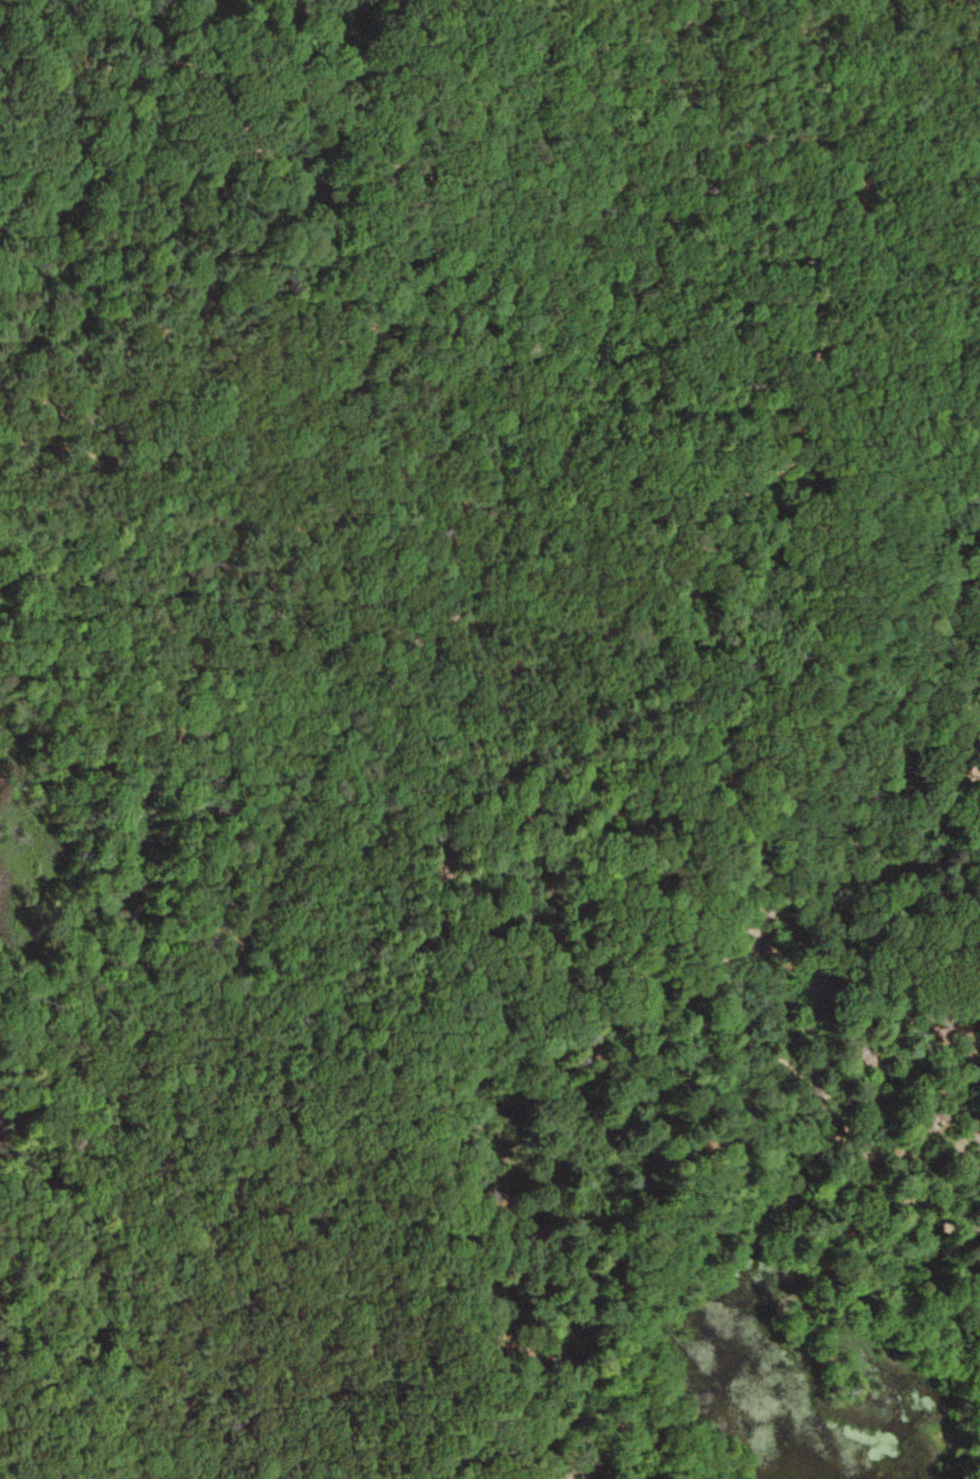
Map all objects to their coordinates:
road: (385, 637)
road: (628, 648)
park: (490, 739)
road: (659, 956)

